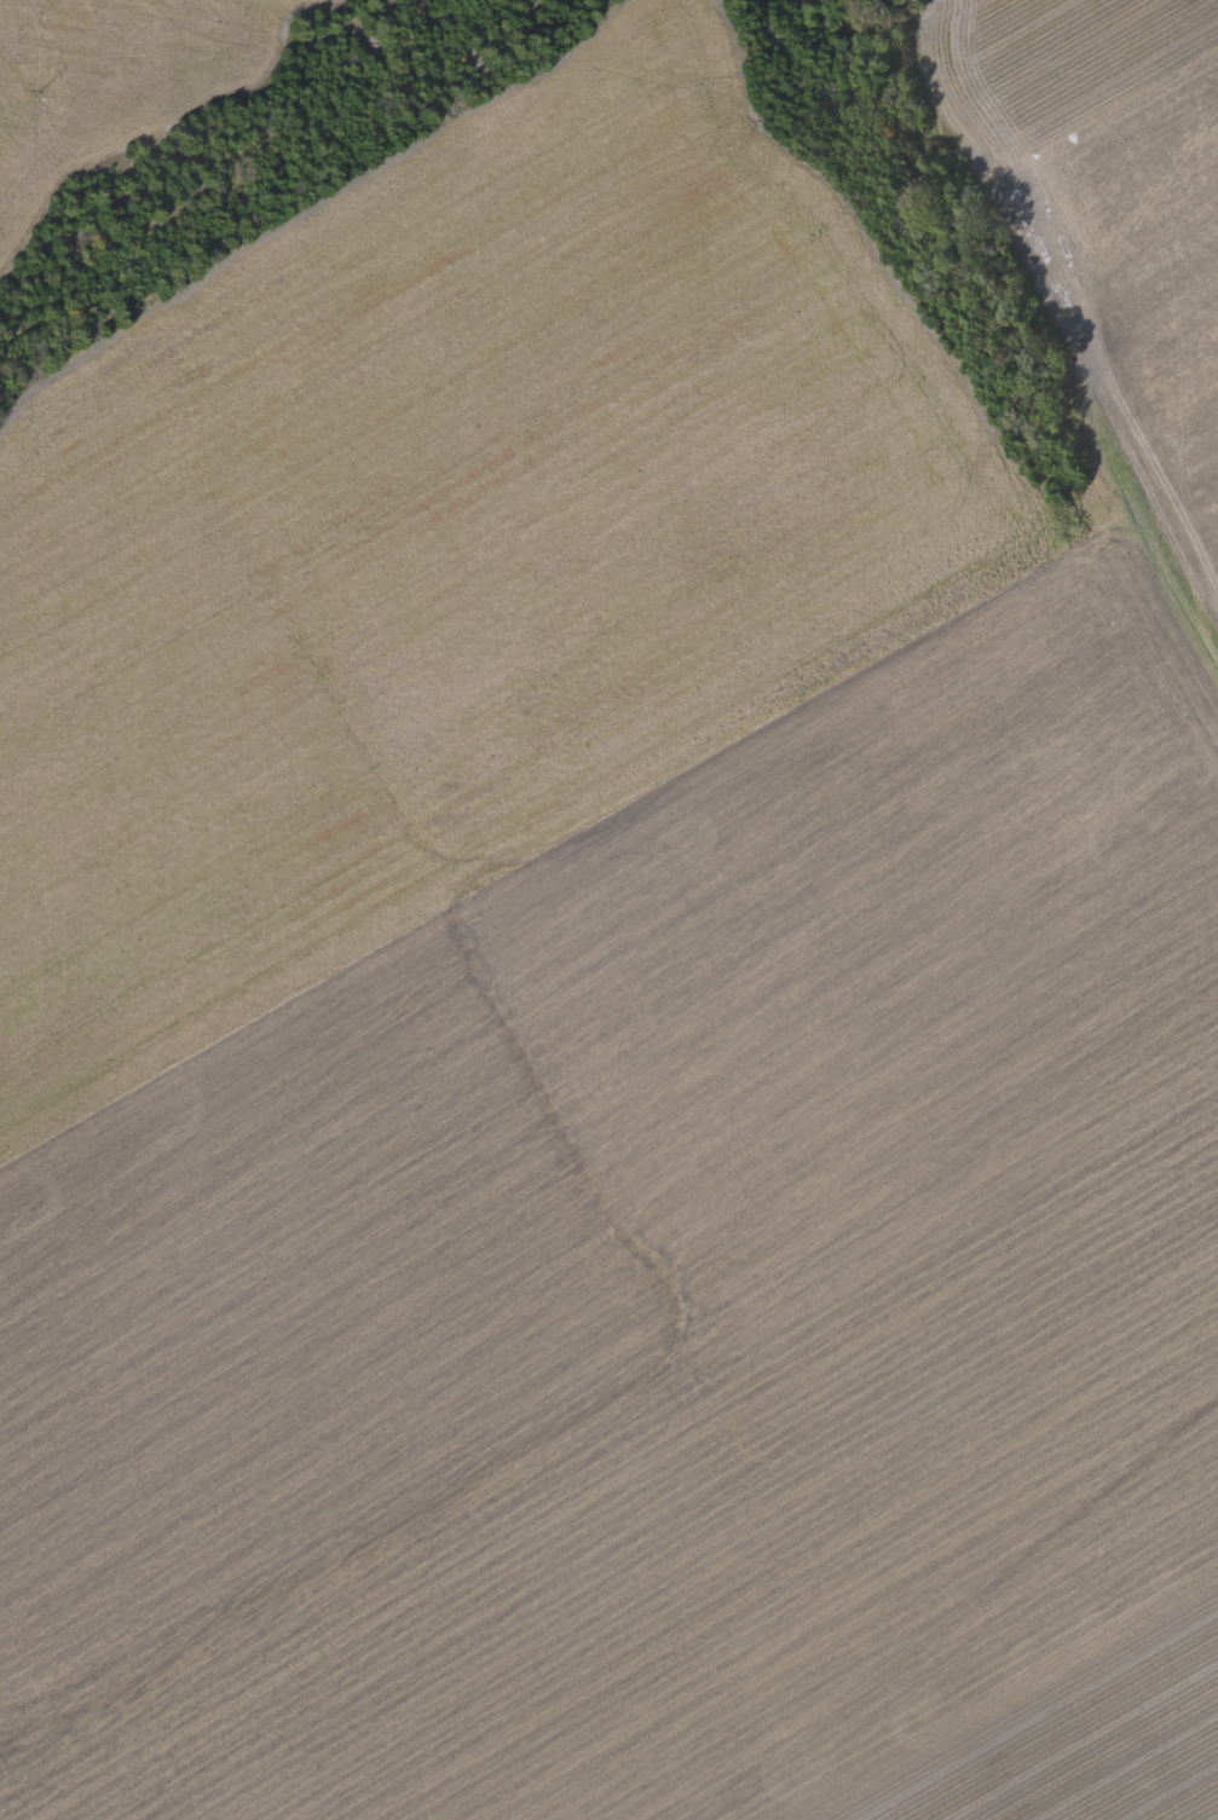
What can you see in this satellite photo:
road: (1137, 514)

